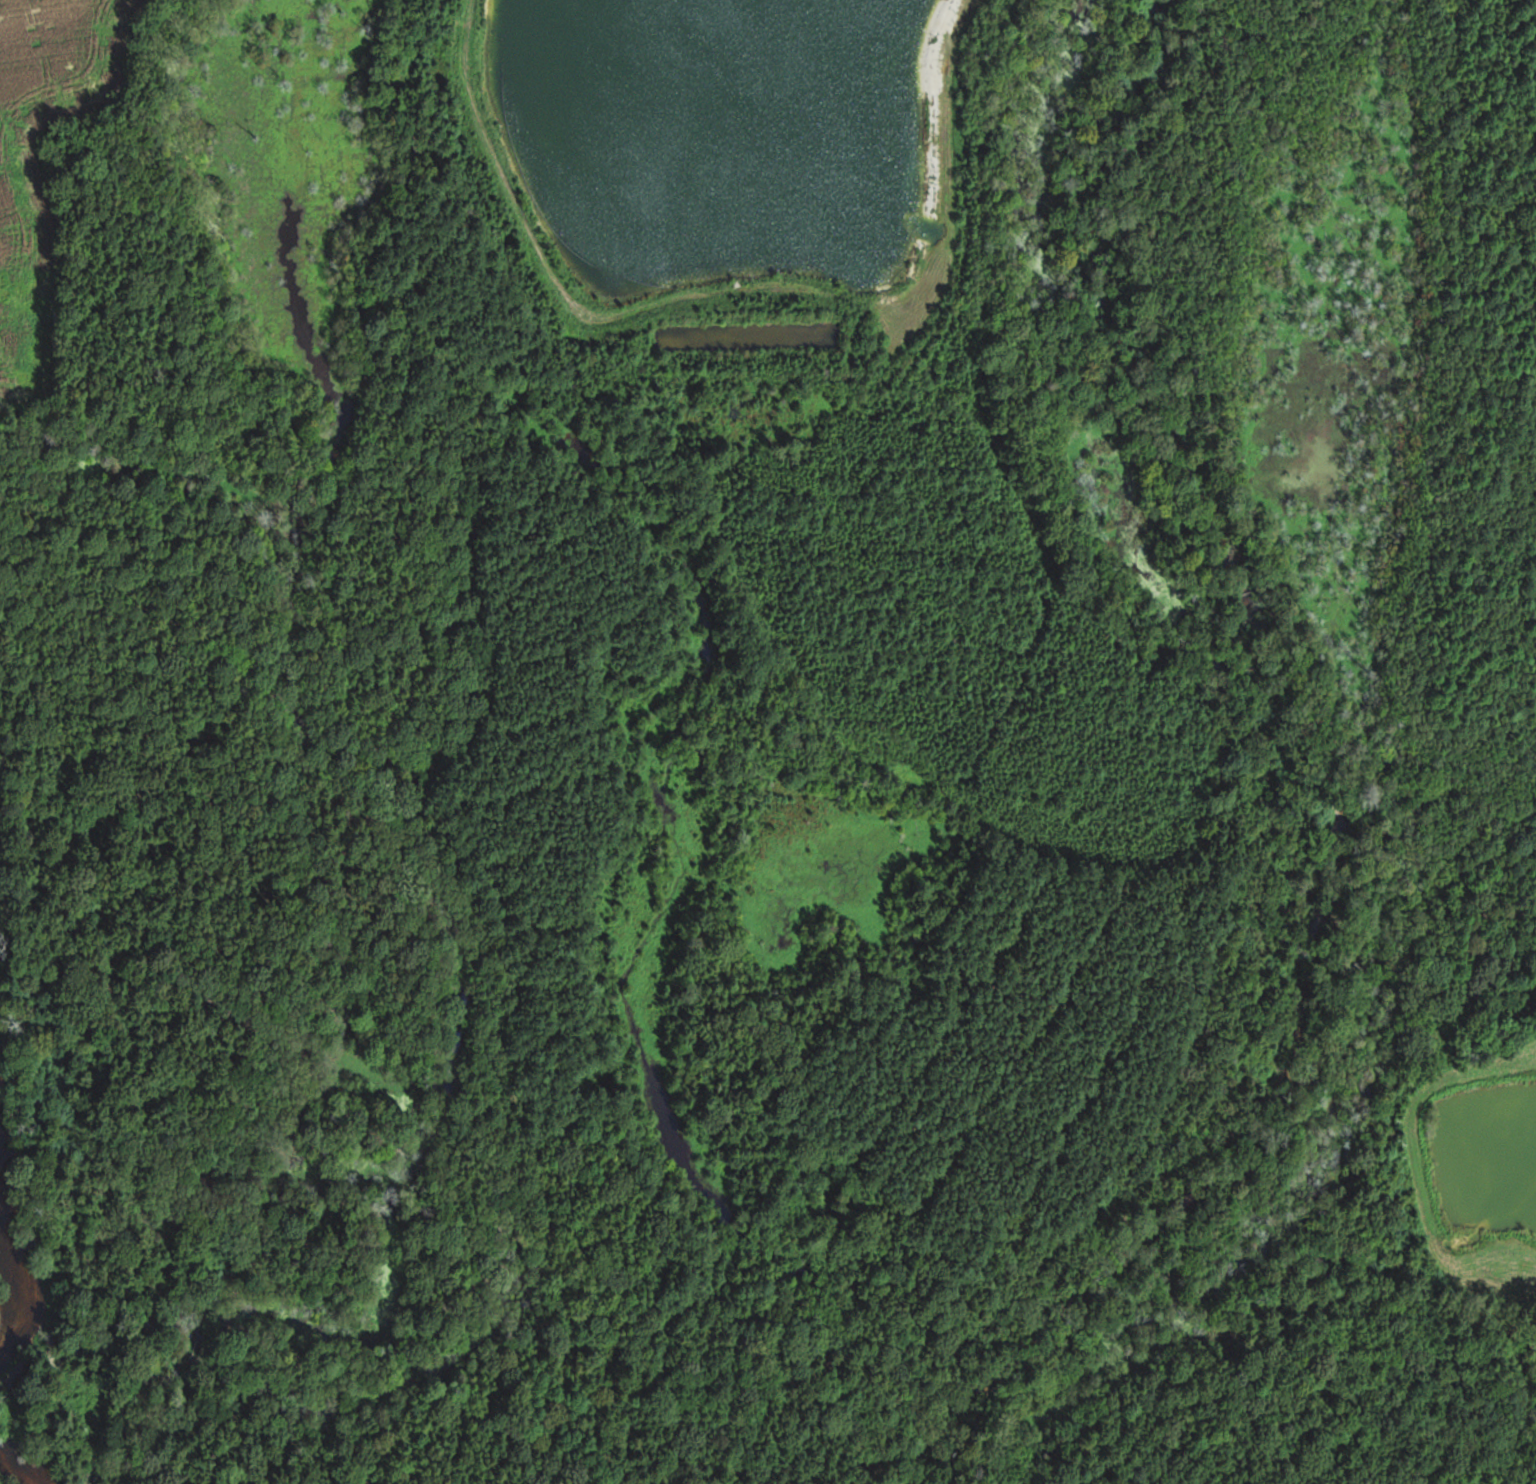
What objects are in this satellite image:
river: (14, 1197)
river: (51, 1411)

